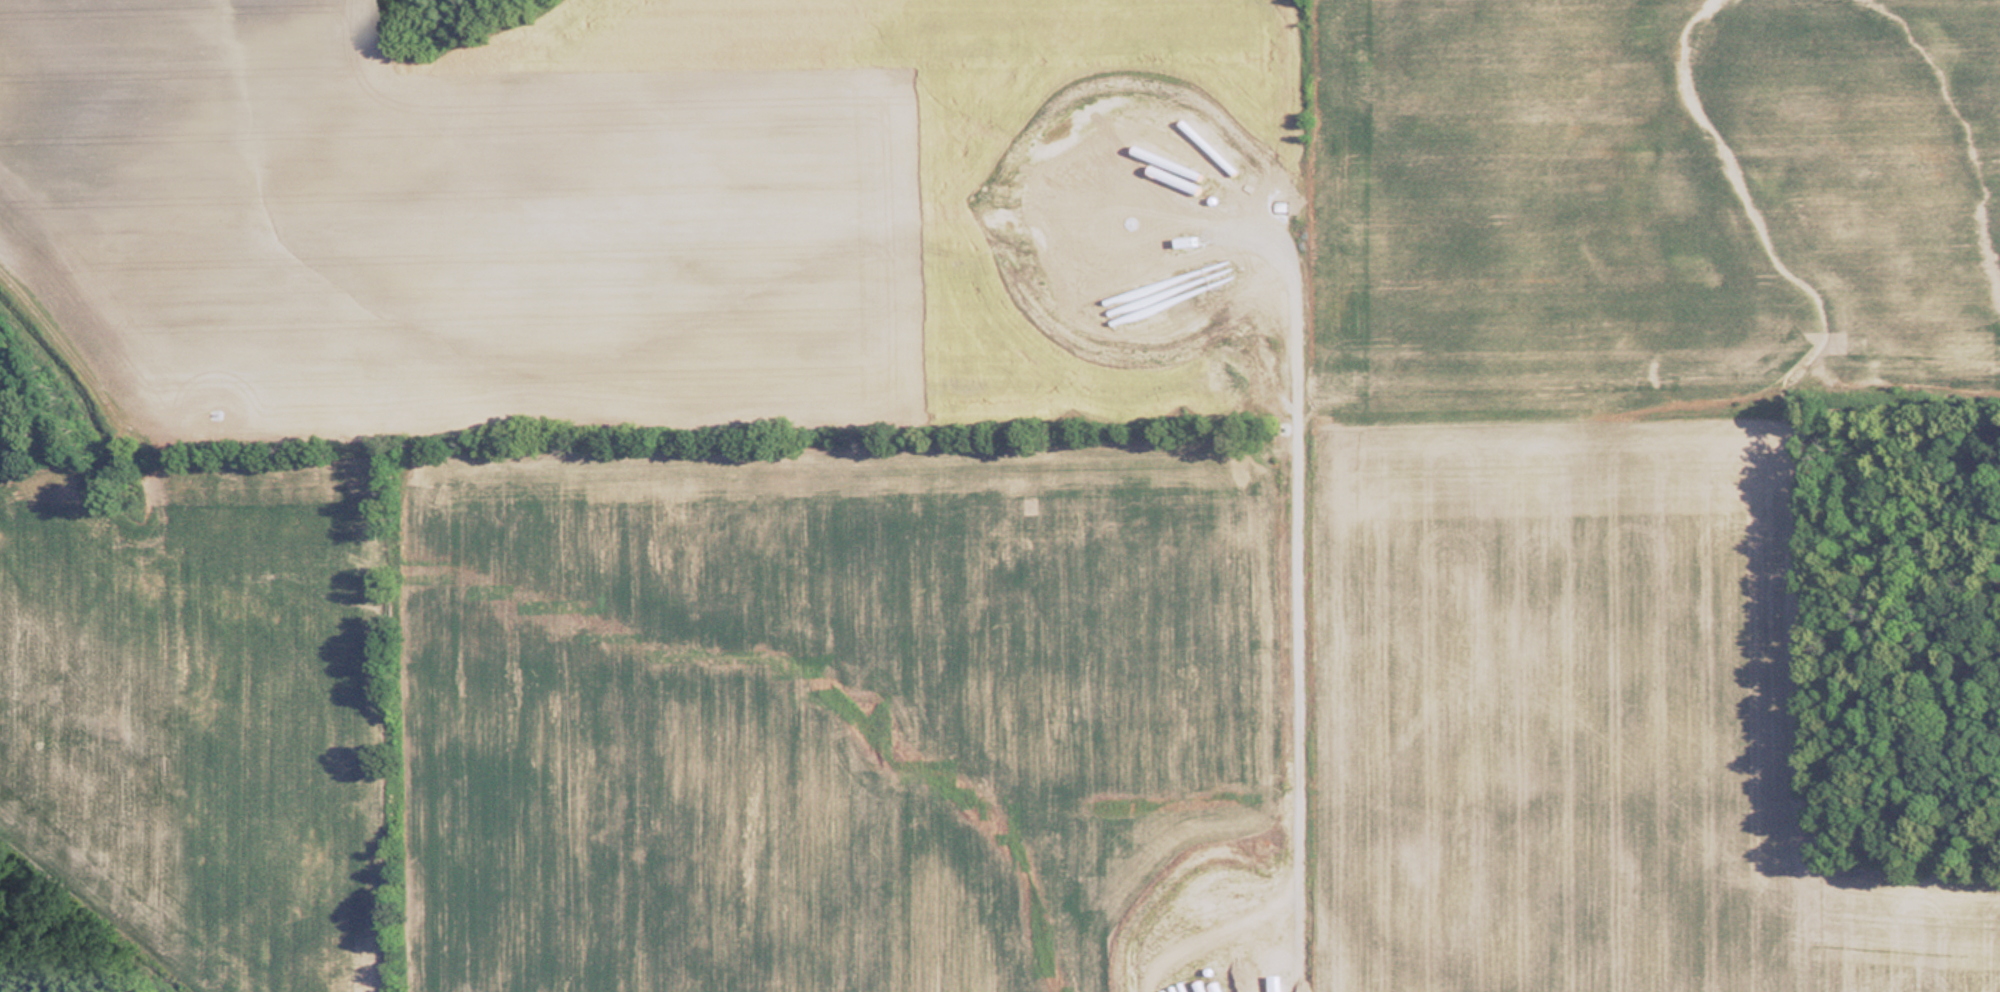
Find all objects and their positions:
wind turbine: (1122, 223)
wind turbine: (1219, 971)

